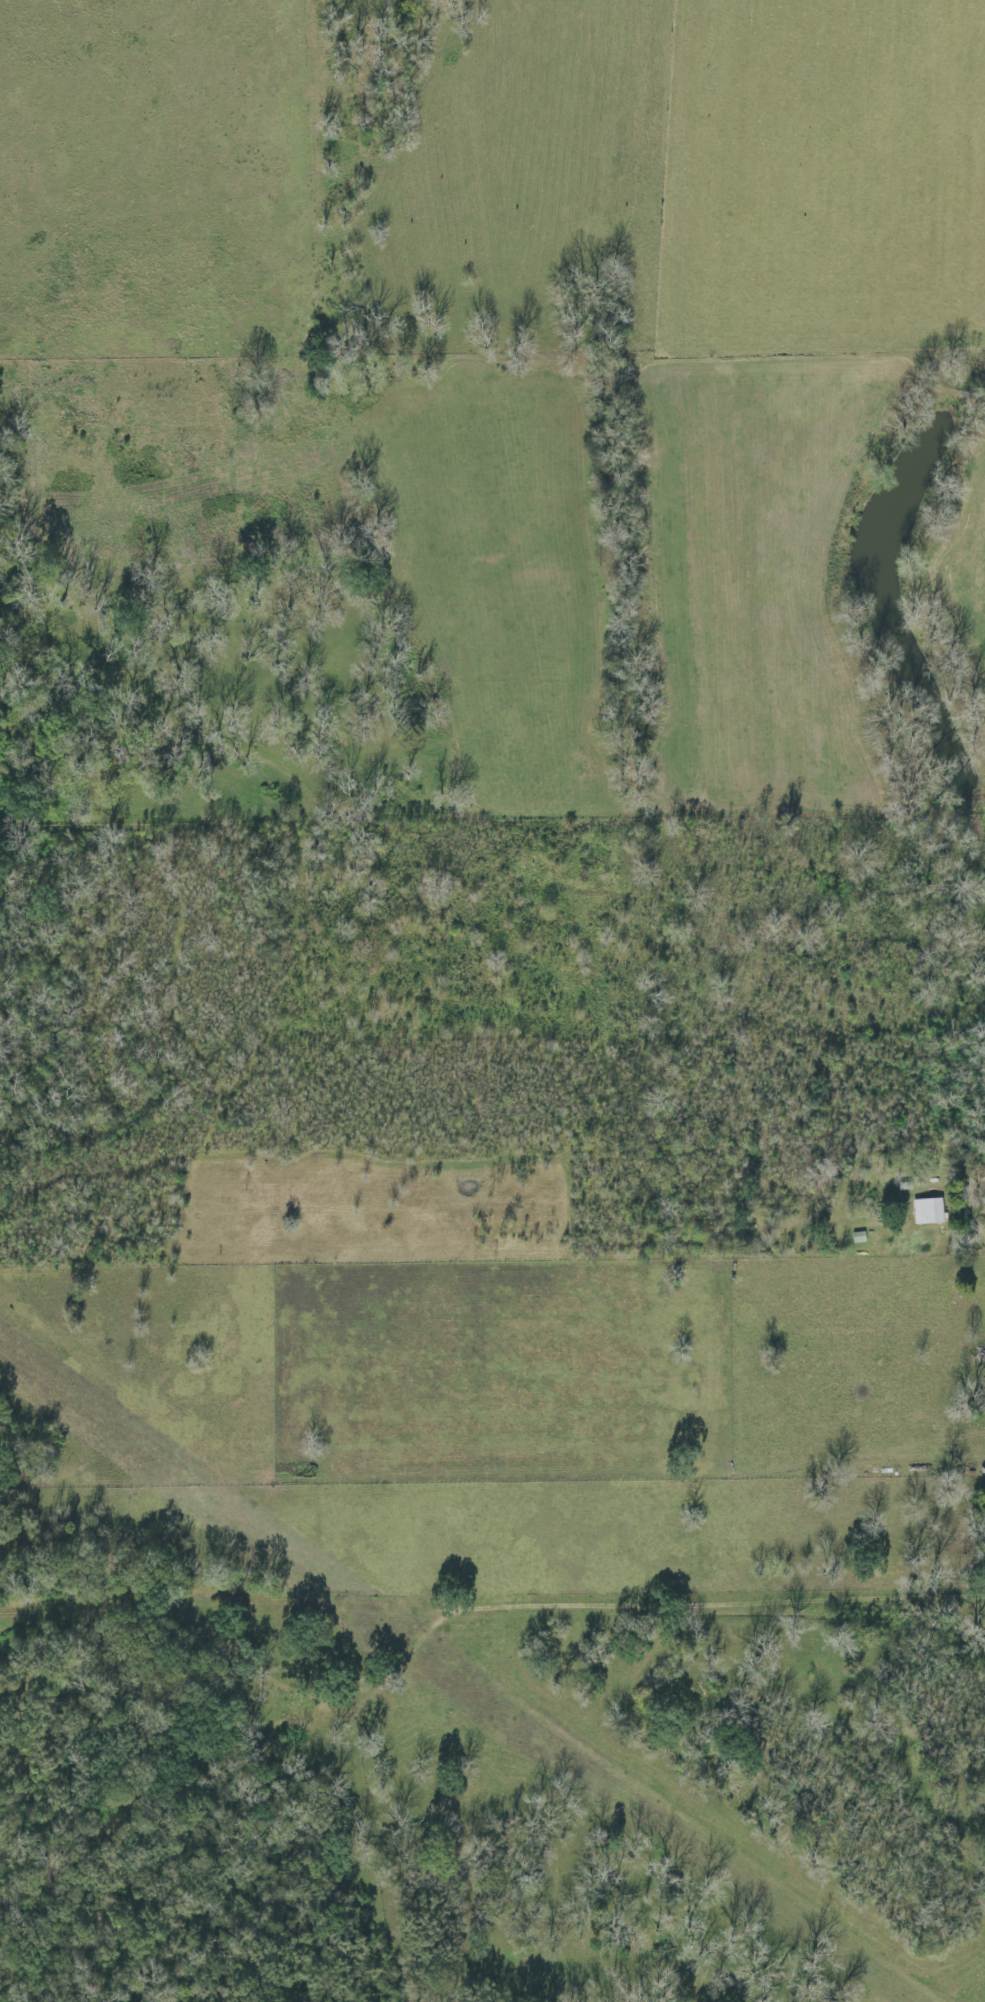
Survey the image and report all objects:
road: (972, 1173)
building: (928, 1211)

